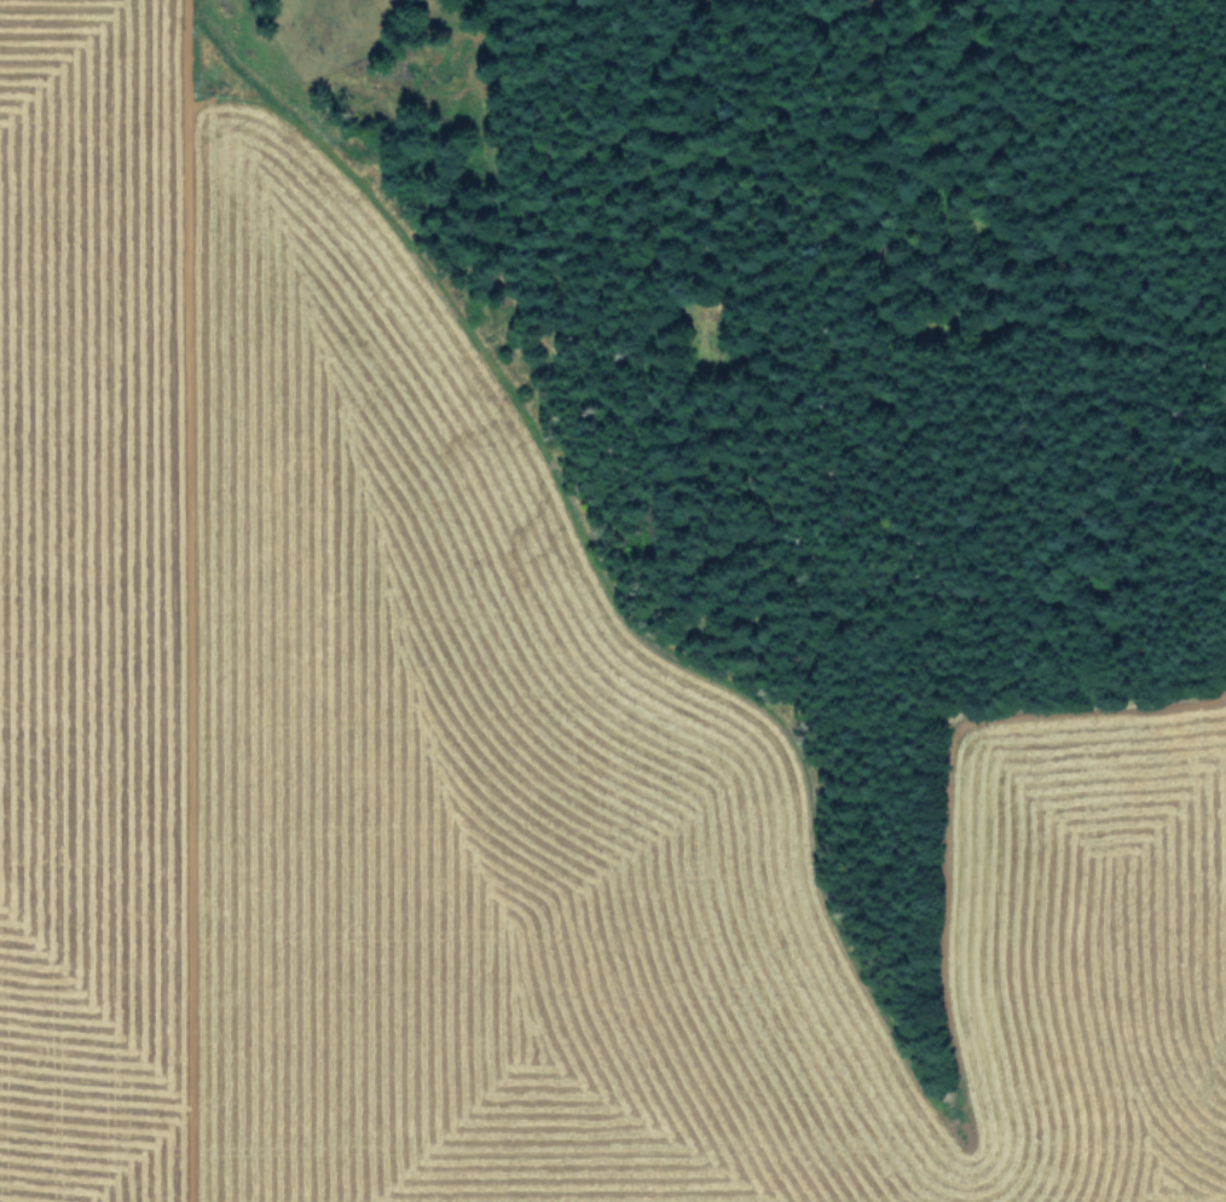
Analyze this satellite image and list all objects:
crop: (495, 774)

